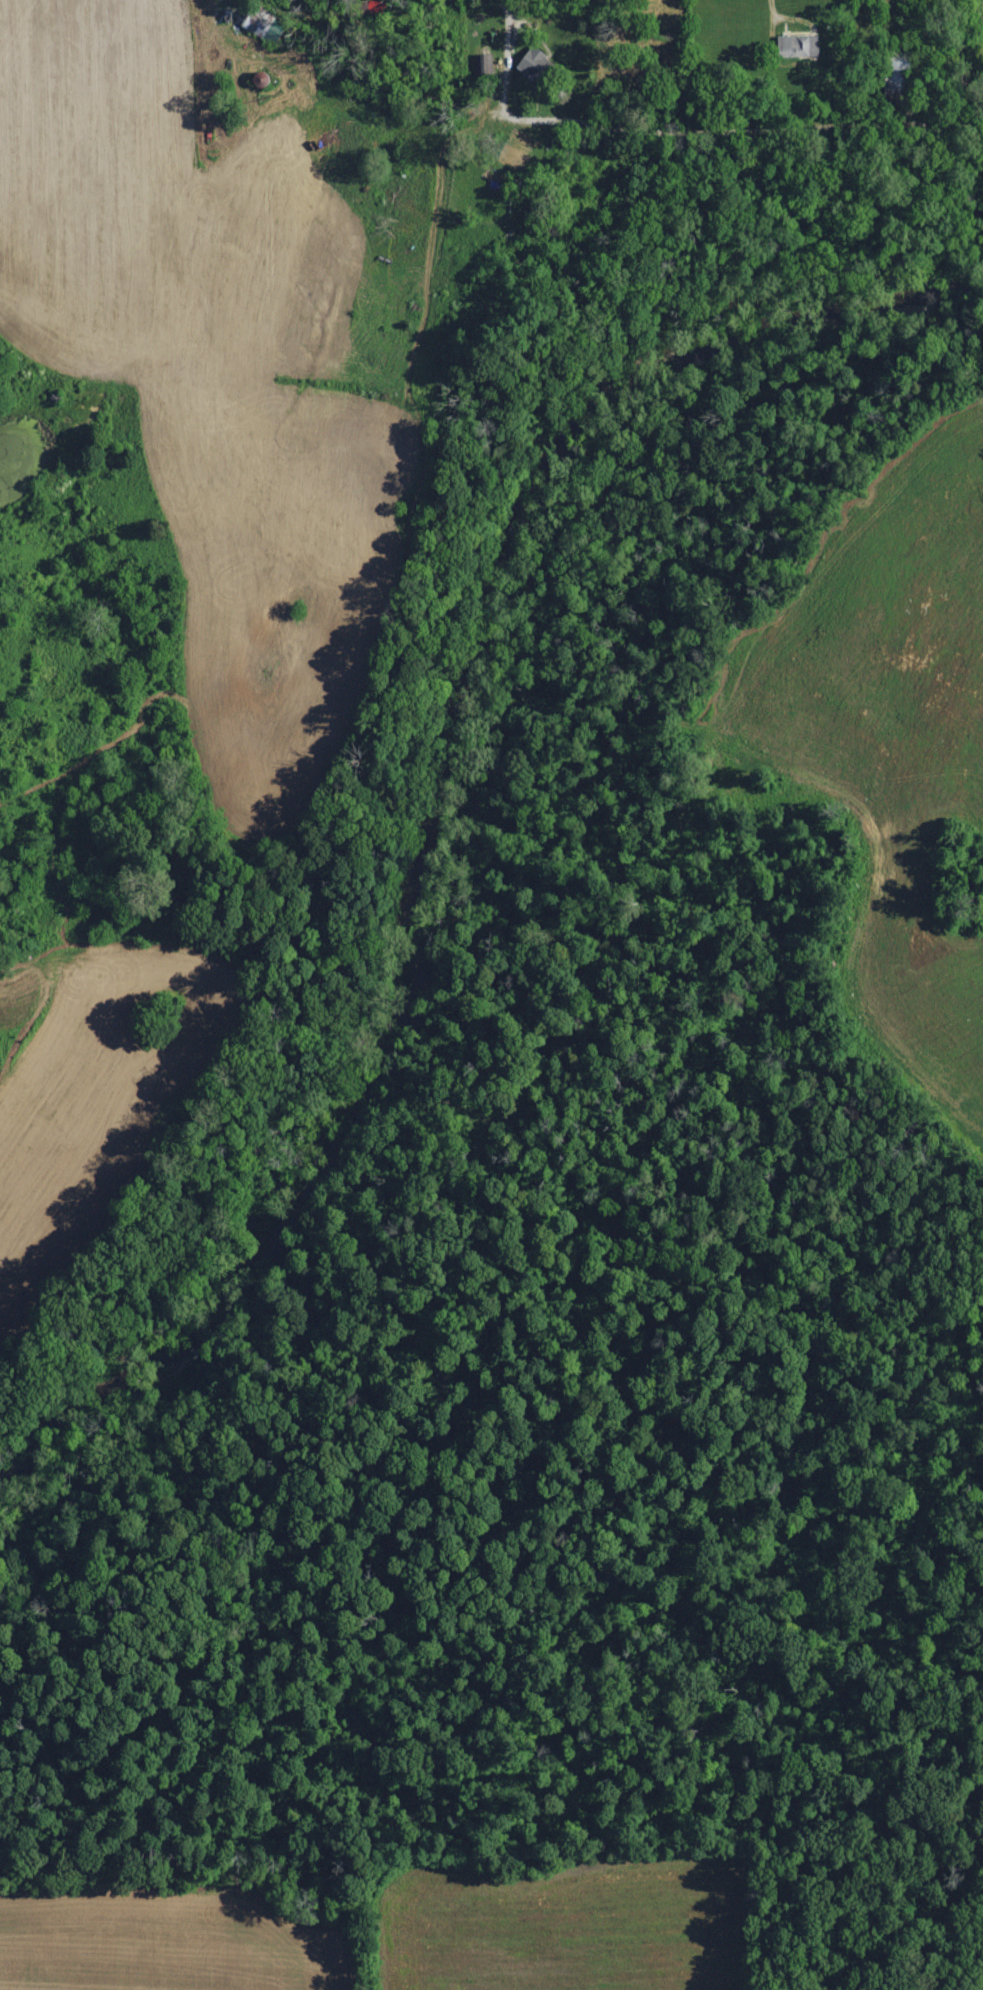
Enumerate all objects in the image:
road: (776, 6)
building: (798, 46)
building: (536, 66)
road: (684, 123)
river: (427, 782)

